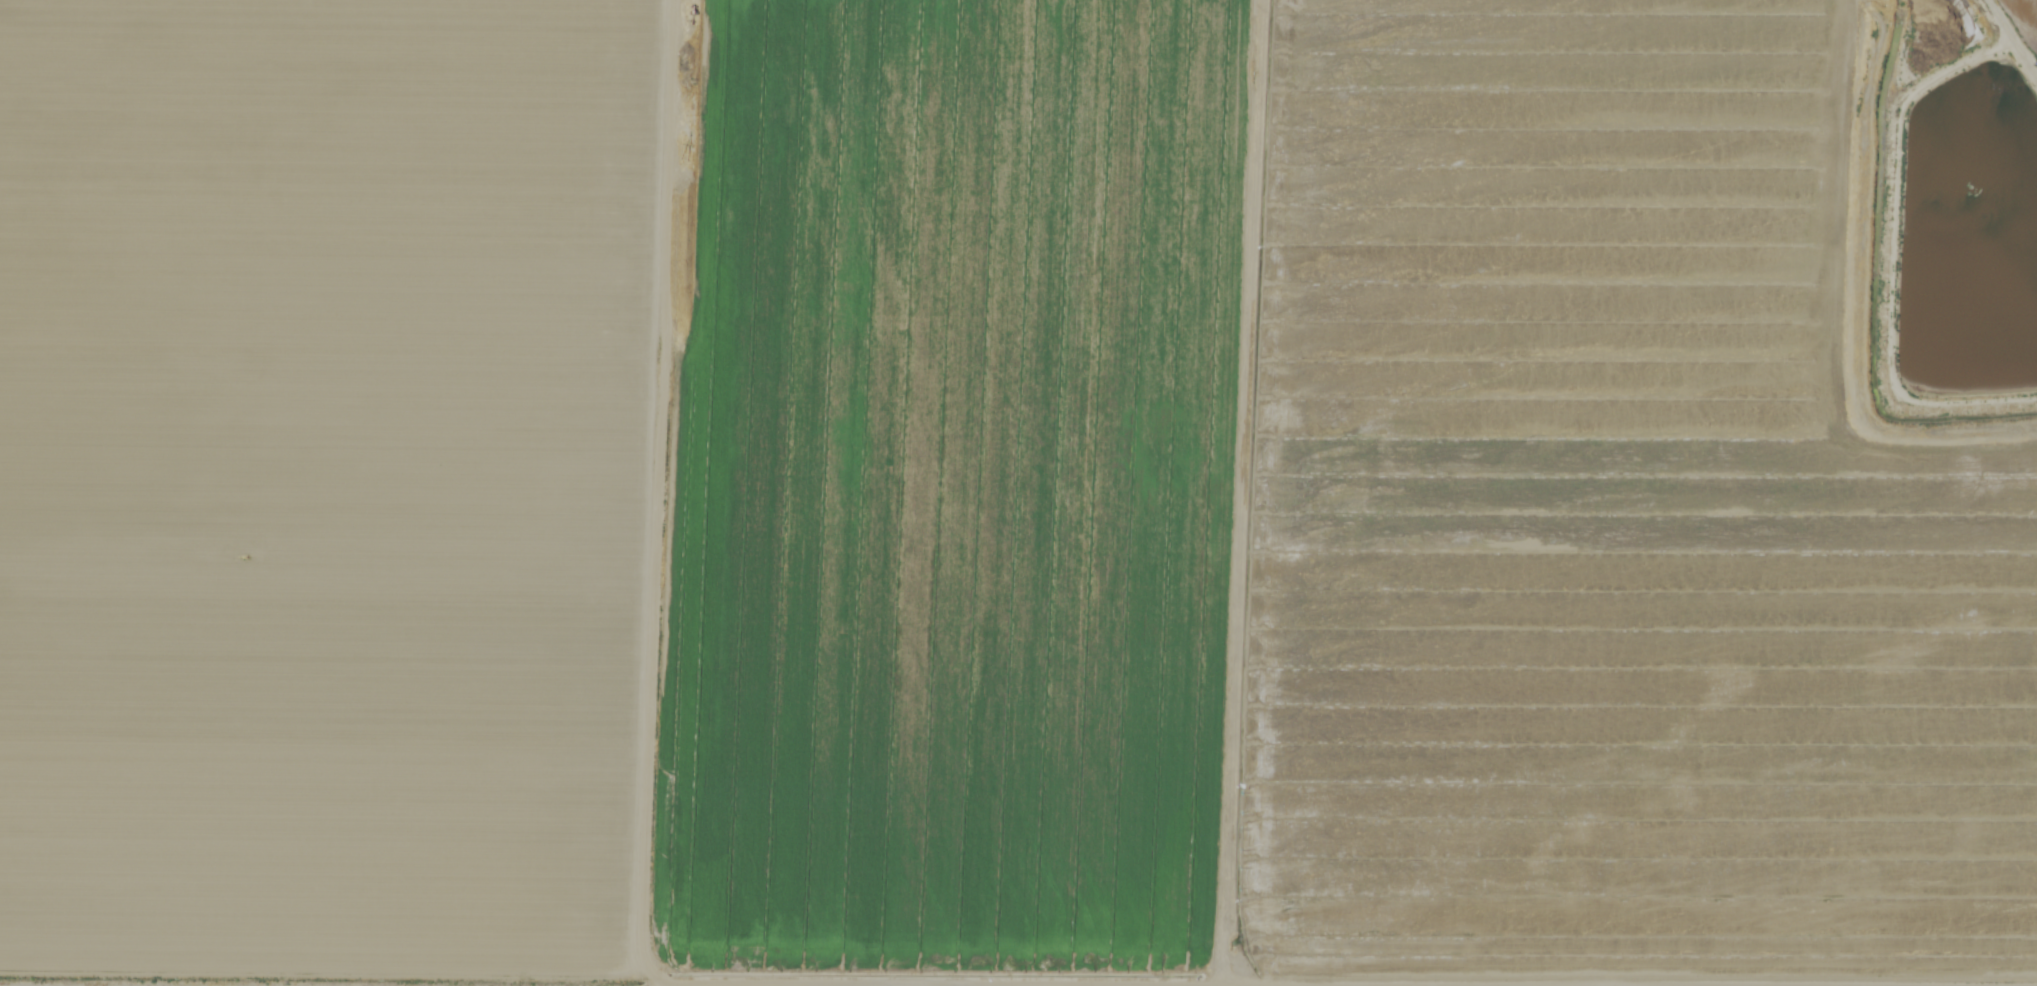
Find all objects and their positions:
crop: (984, 503)

